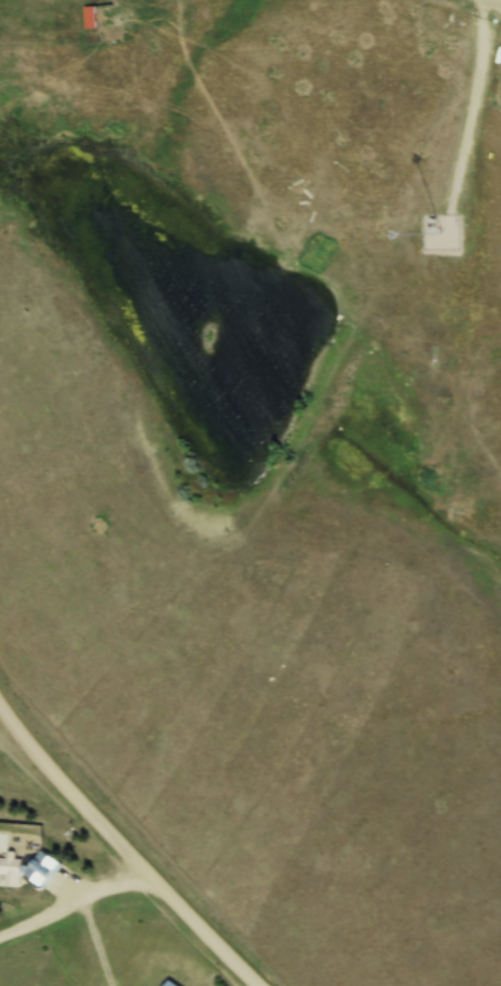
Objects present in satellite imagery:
road: (500, 0)
building: (144, 11)
road: (125, 850)
building: (11, 867)
road: (73, 897)

